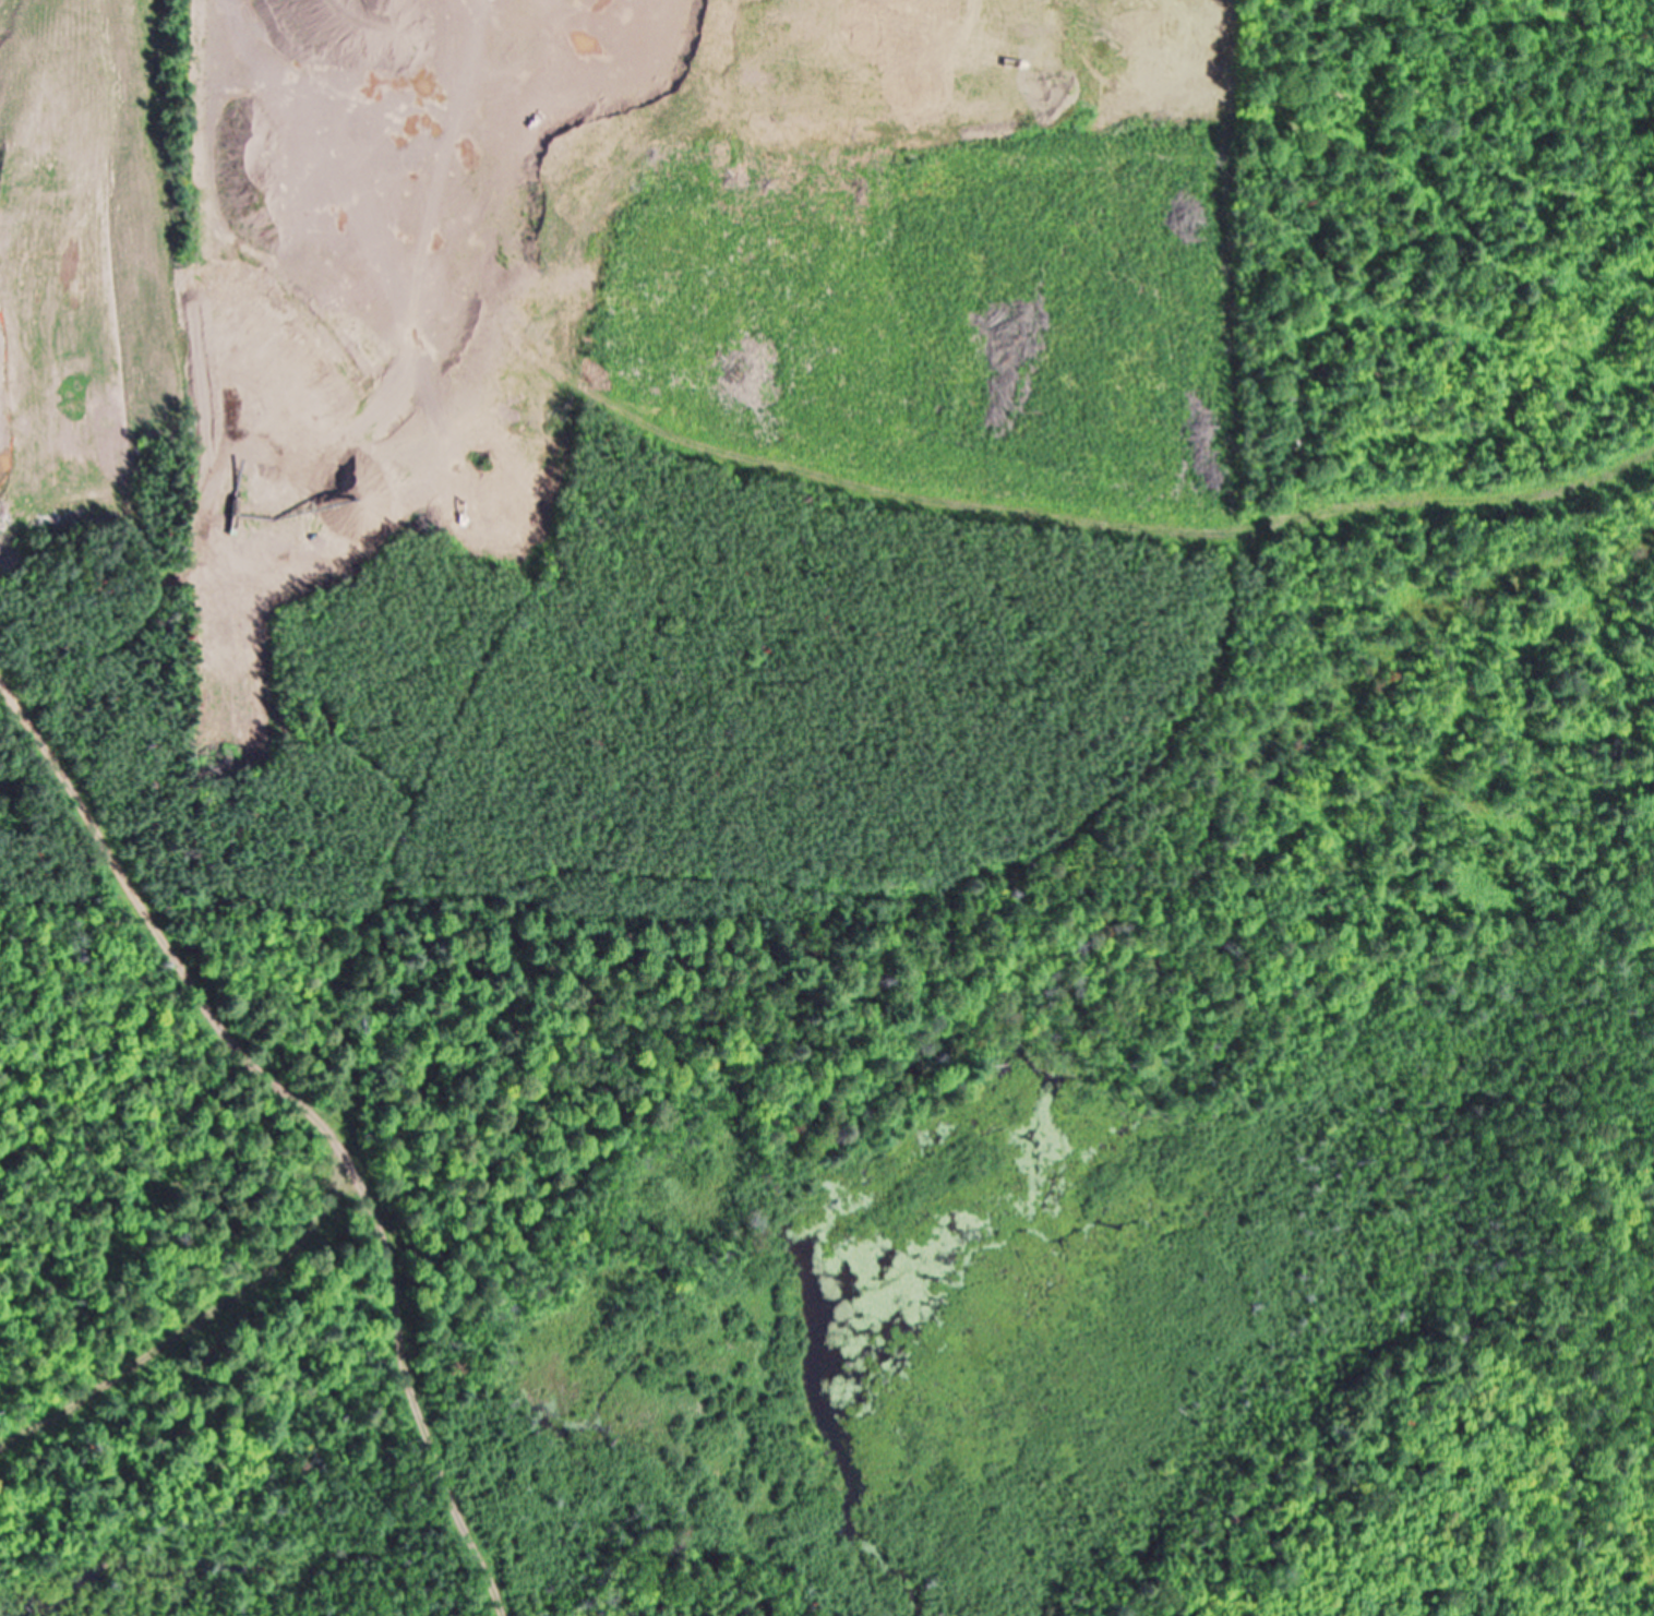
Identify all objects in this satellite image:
quarry: (631, 467)

